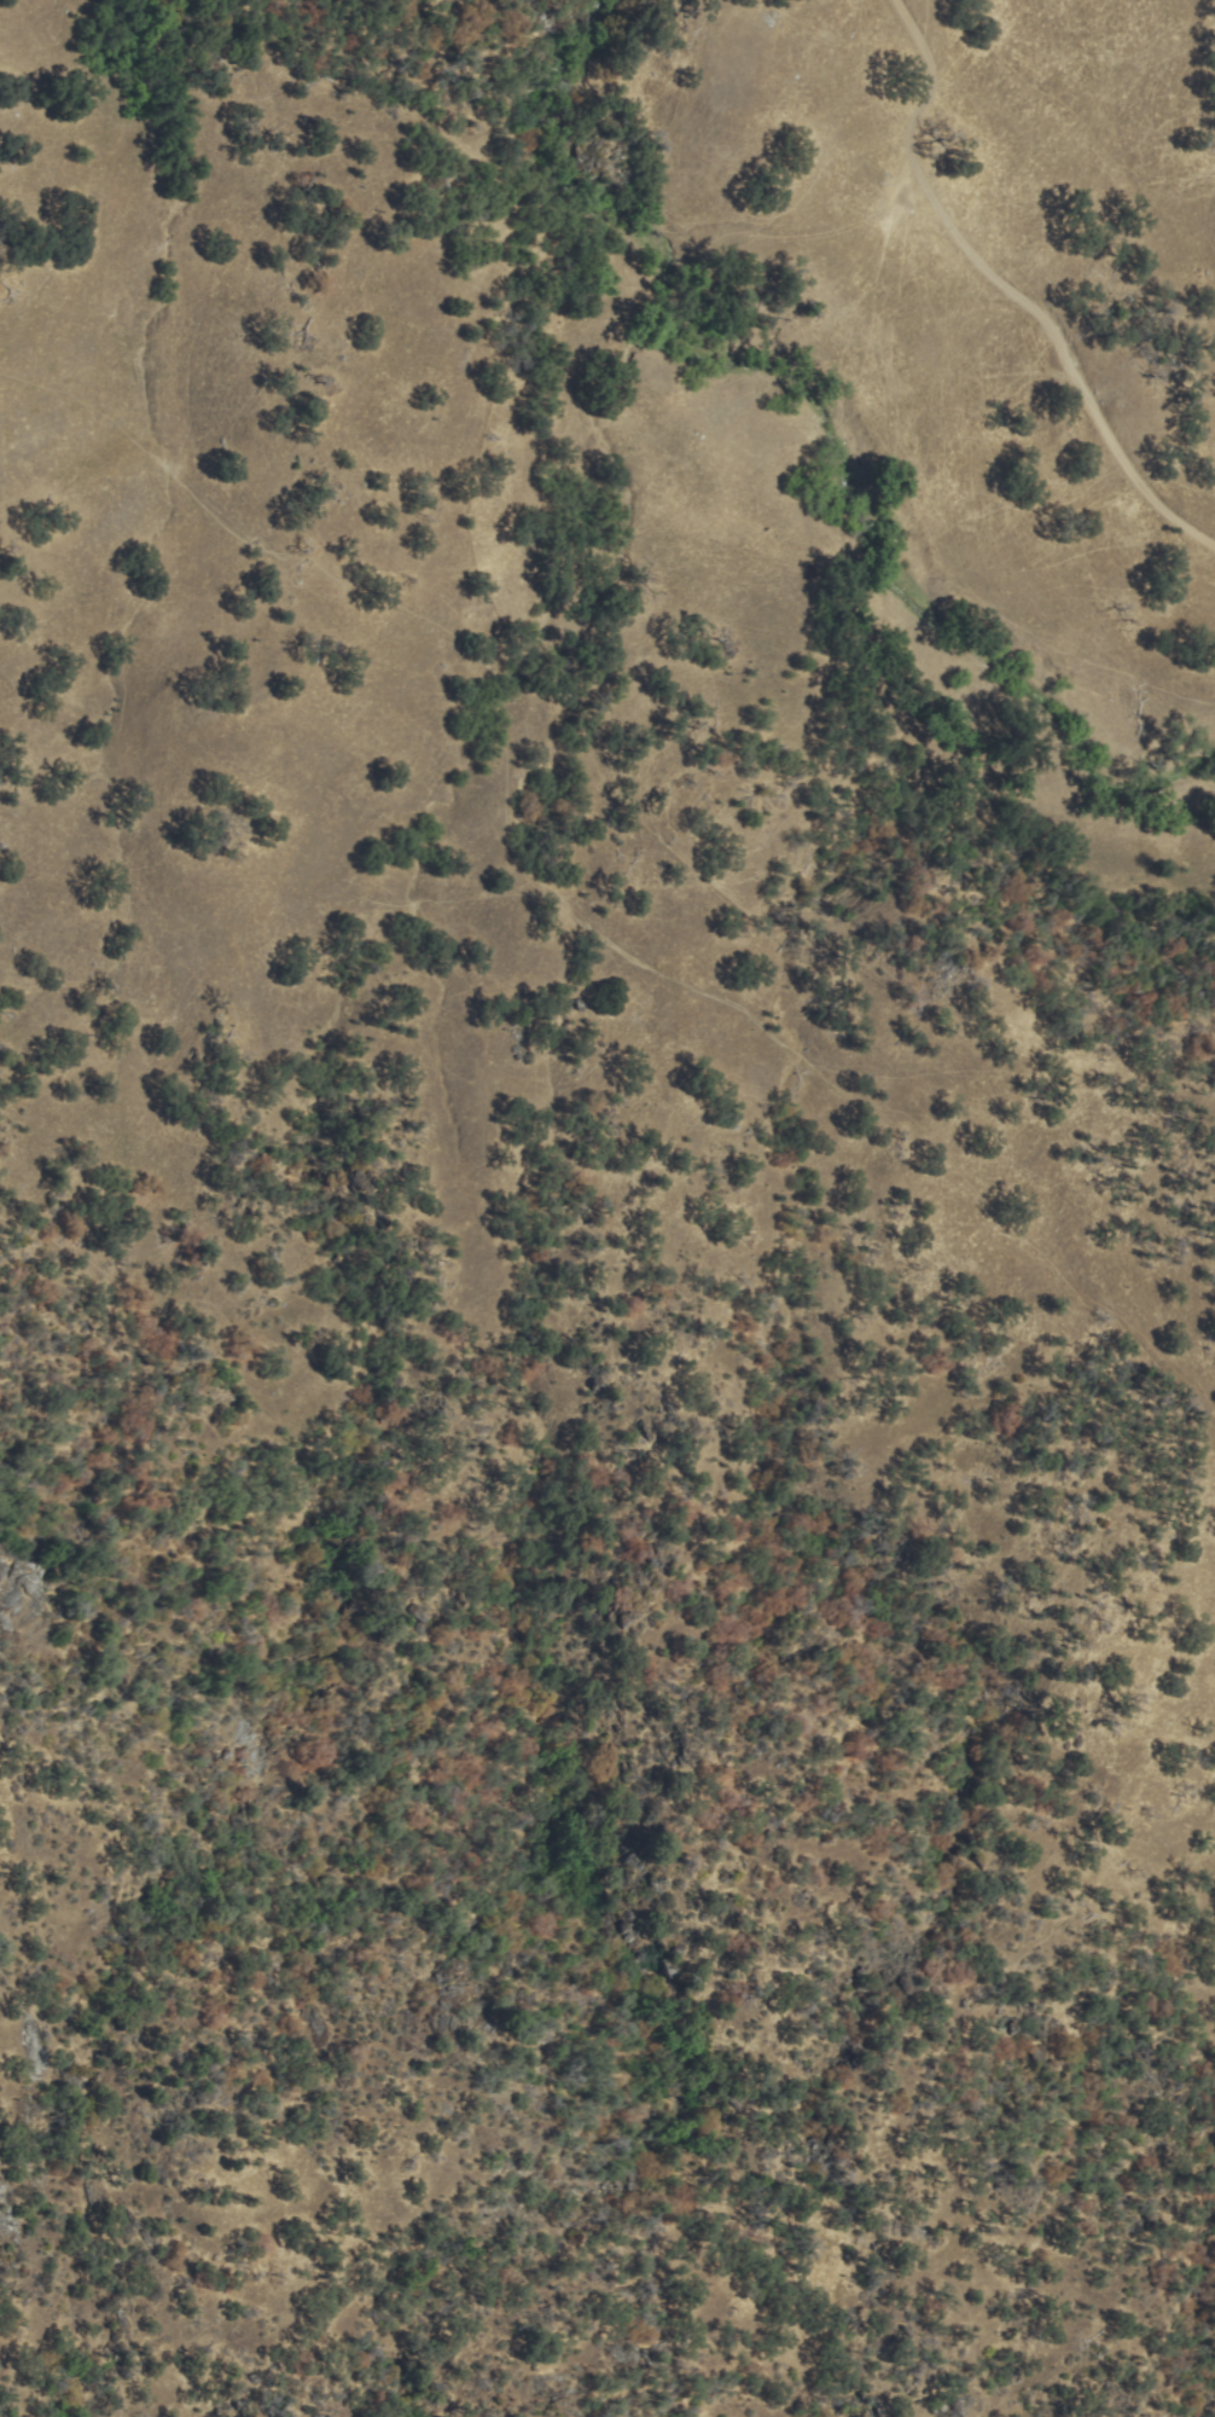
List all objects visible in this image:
road: (1013, 289)

